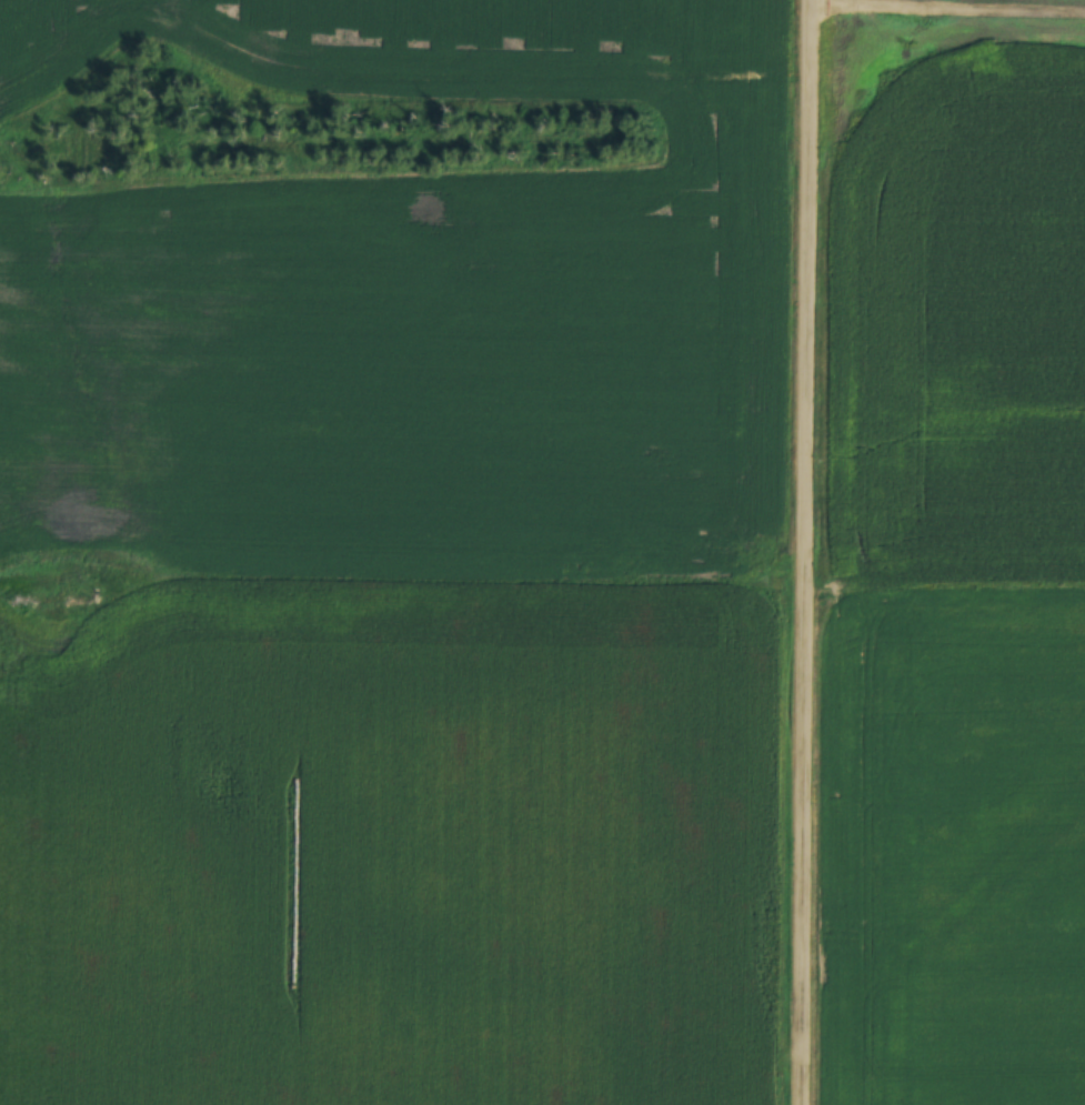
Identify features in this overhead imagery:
road: (812, 552)

